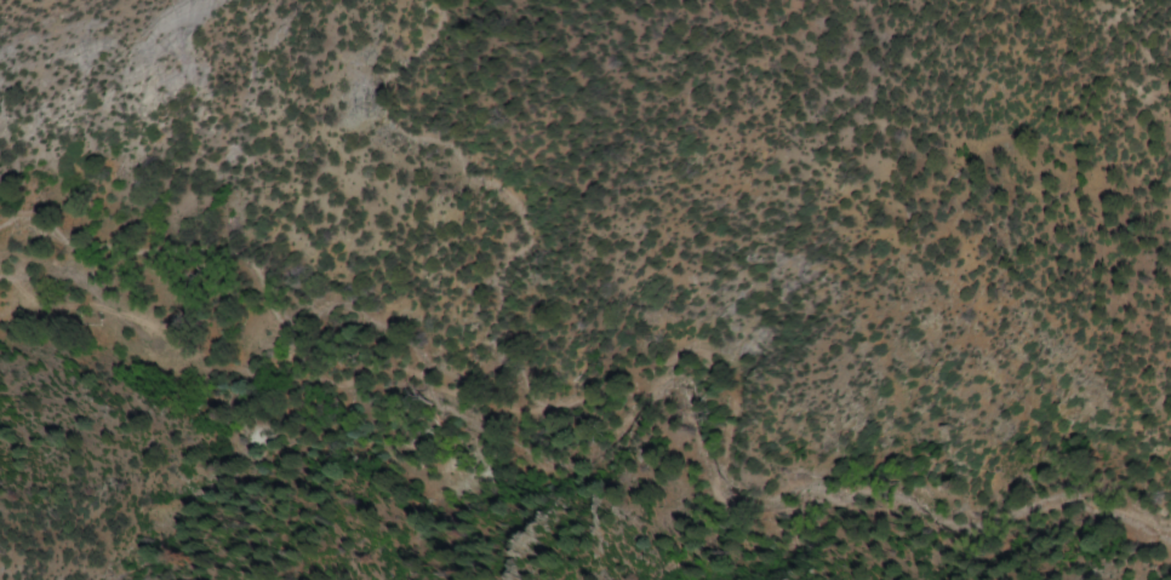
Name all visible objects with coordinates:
road: (578, 398)
mineshaft: (461, 513)

